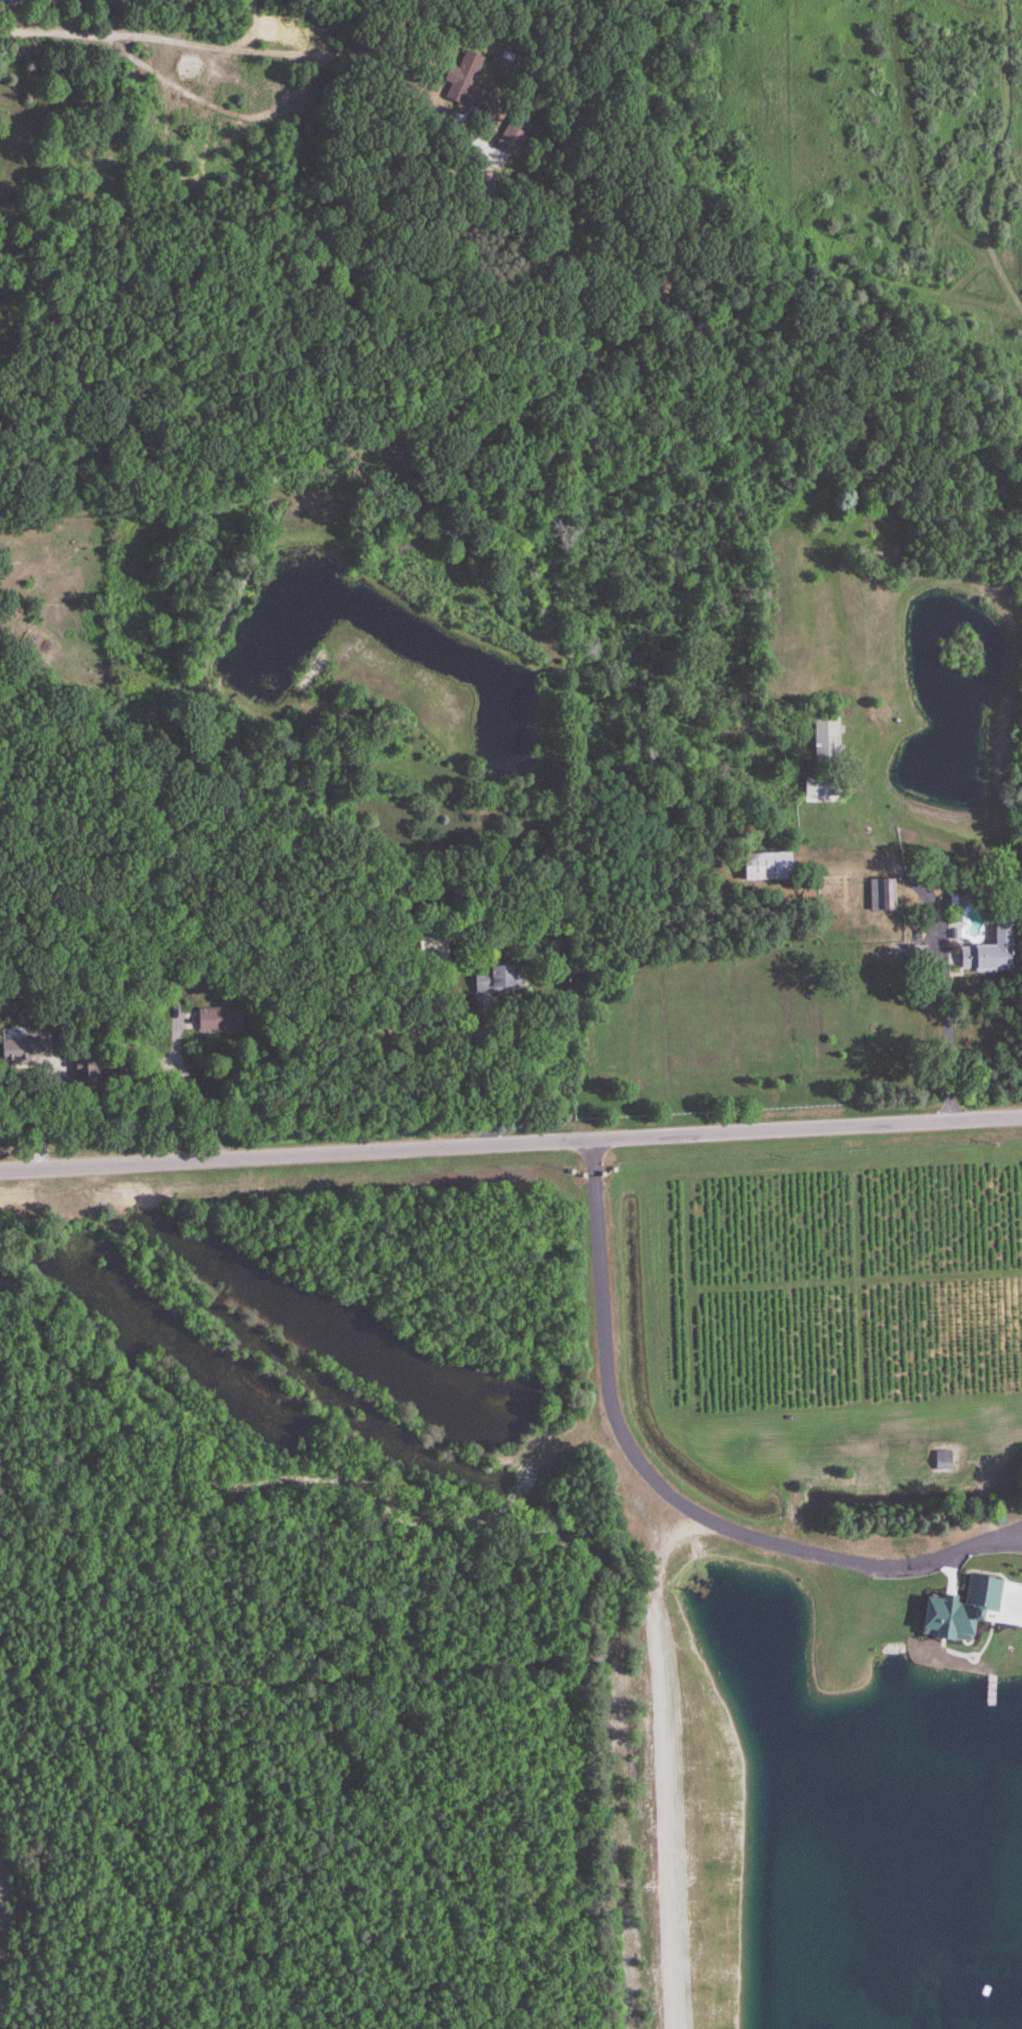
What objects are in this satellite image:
building: (9, 0)
road: (251, 46)
building: (464, 76)
building: (514, 135)
building: (826, 737)
building: (765, 866)
building: (882, 895)
building: (431, 948)
building: (988, 954)
building: (495, 979)
building: (213, 1019)
road: (946, 1040)
building: (22, 1050)
road: (511, 1144)
building: (942, 1460)
road: (669, 1490)

